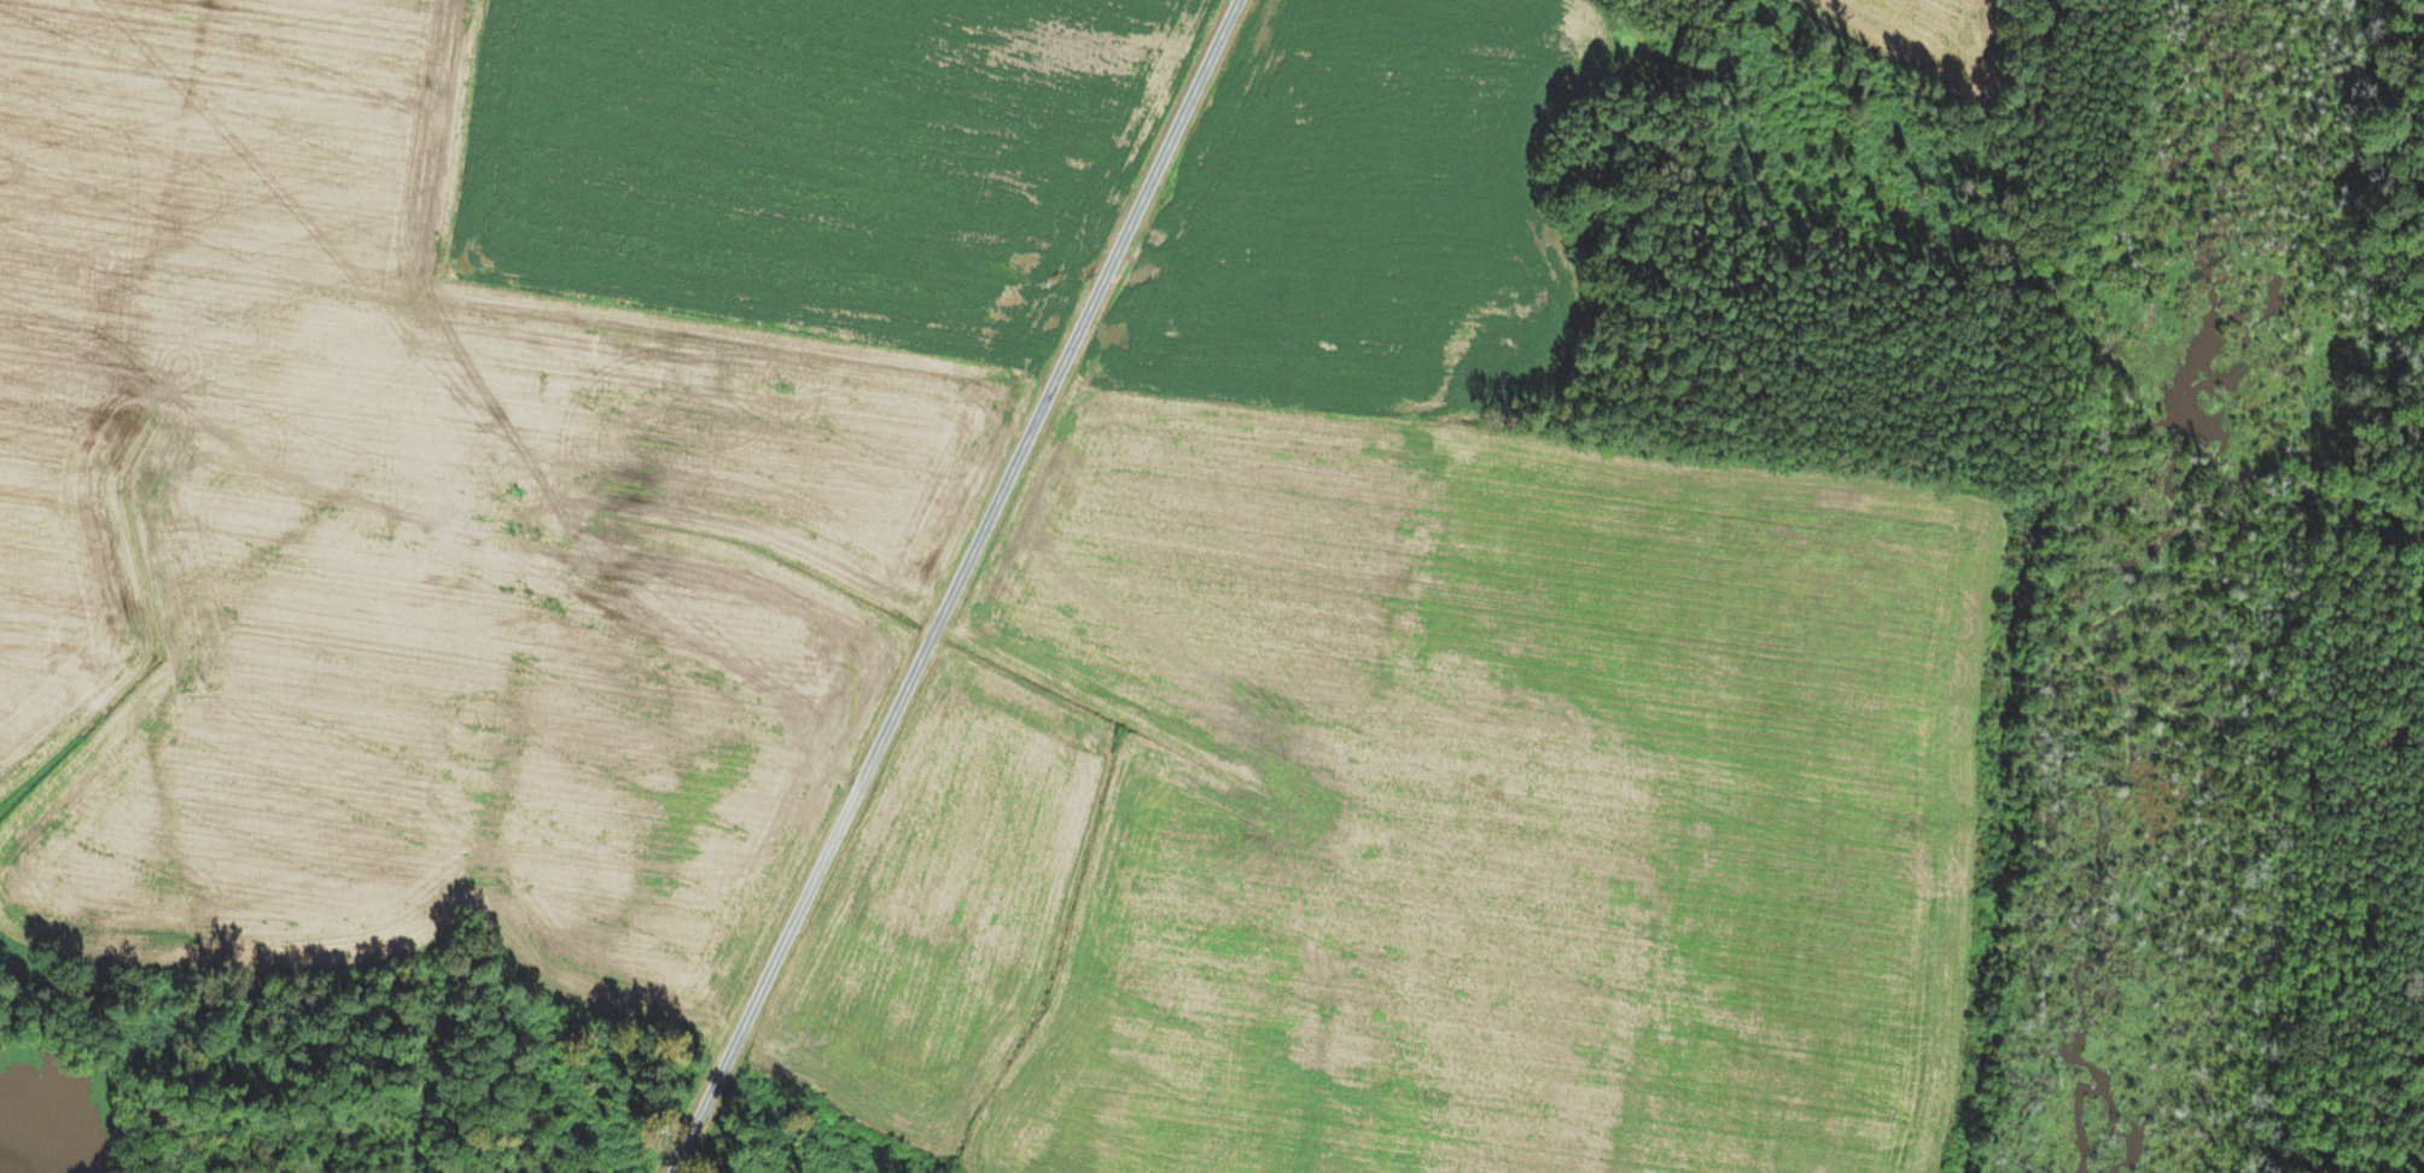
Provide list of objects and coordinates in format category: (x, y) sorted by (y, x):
road: (955, 586)

